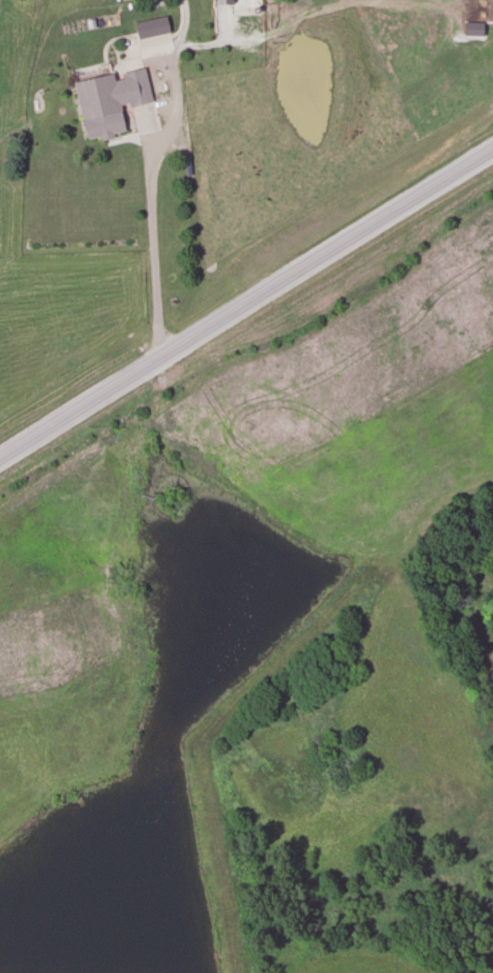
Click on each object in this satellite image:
building: (151, 28)
building: (108, 100)
road: (246, 304)

